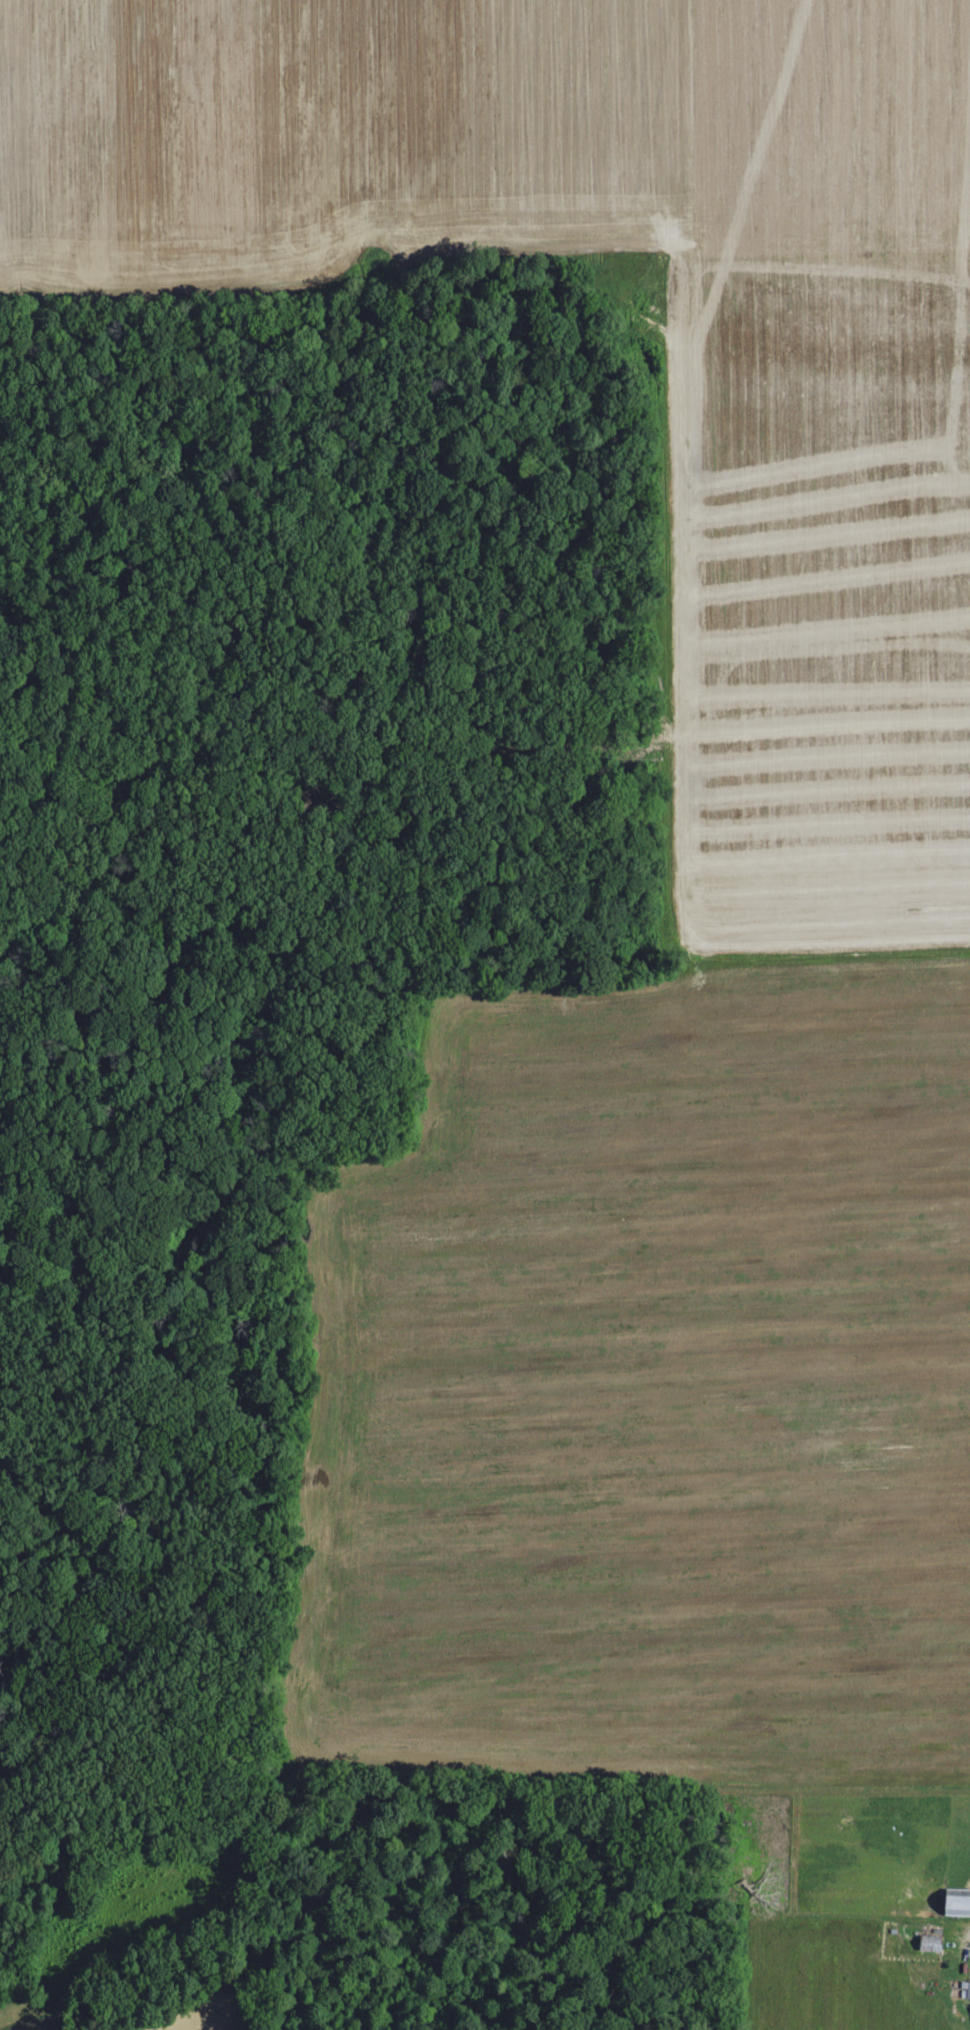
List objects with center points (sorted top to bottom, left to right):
road: (962, 1900)
building: (957, 1902)
building: (929, 1943)
building: (968, 1994)

